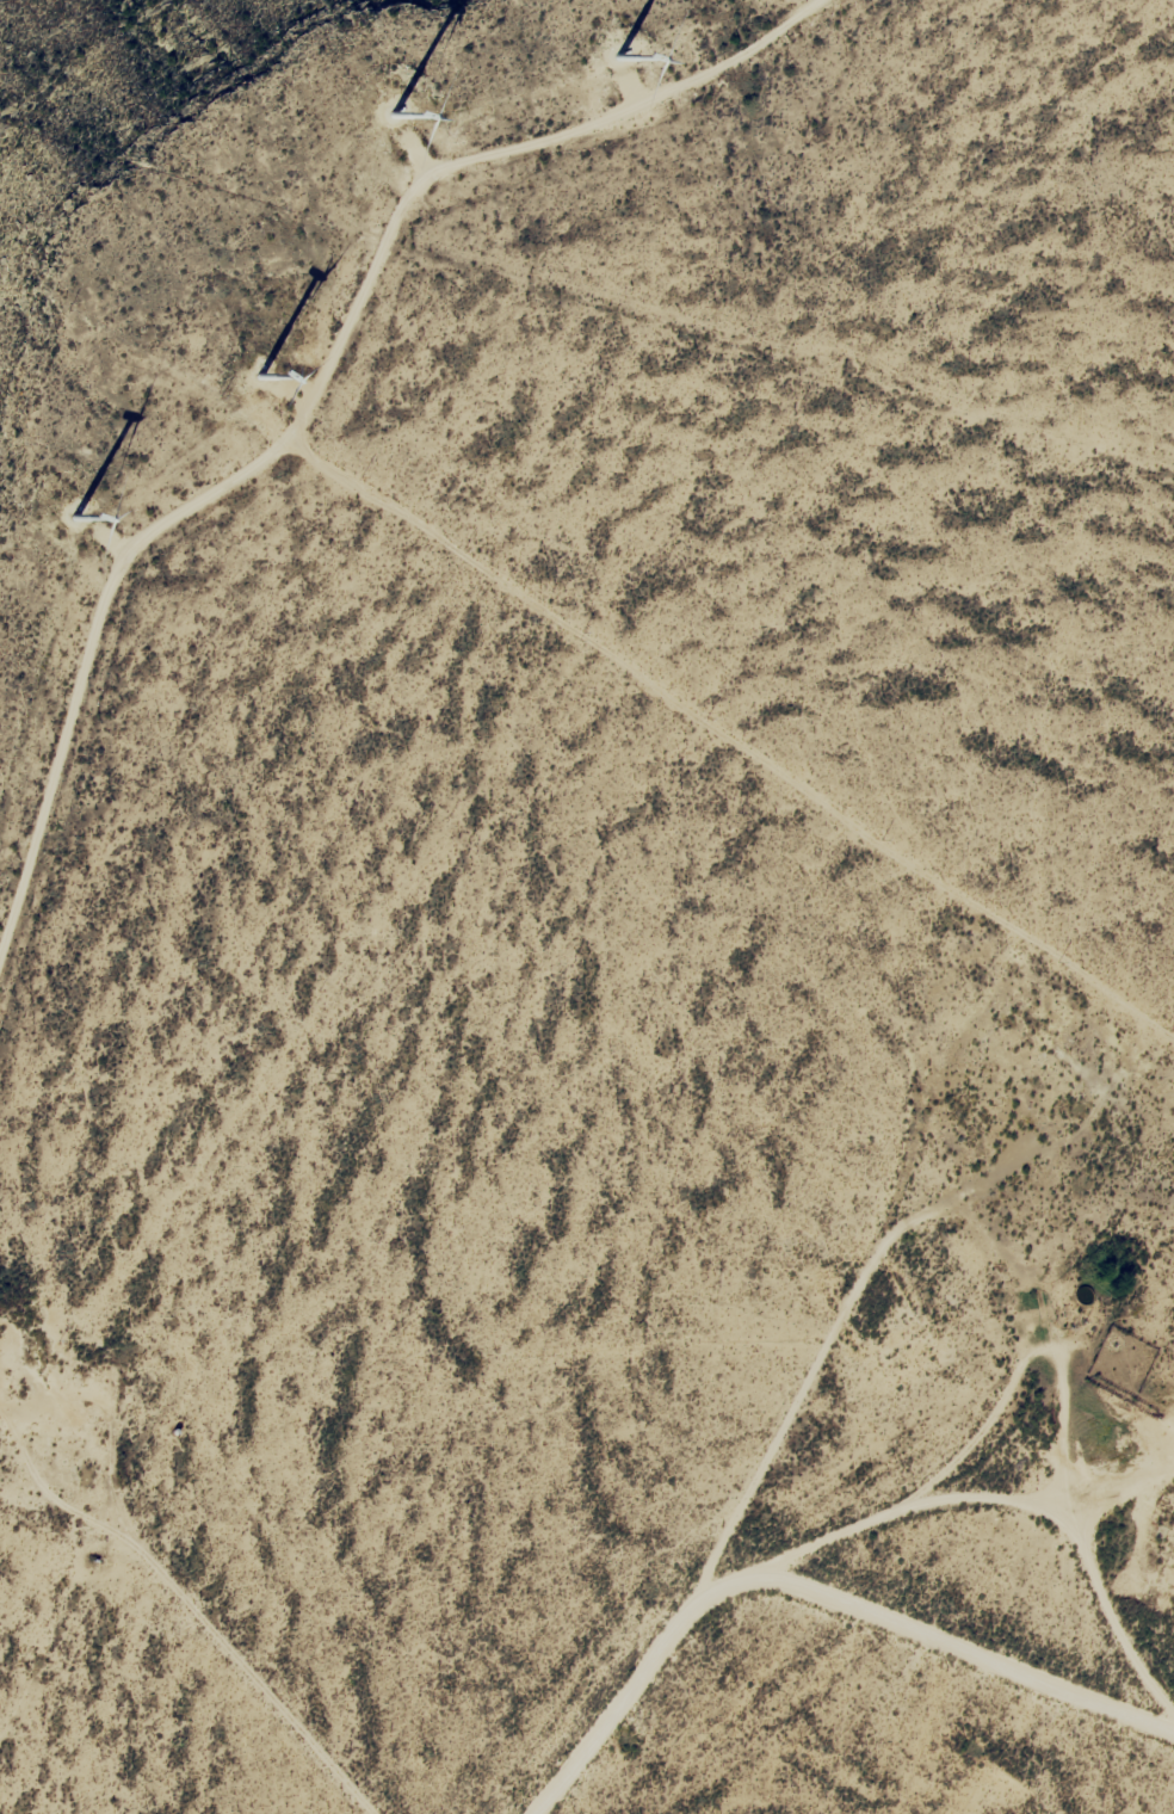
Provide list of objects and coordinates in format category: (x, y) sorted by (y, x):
wind turbine: (606, 64)
wind turbine: (378, 122)
wind turbine: (262, 366)
wind turbine: (51, 502)
road: (873, 1573)

